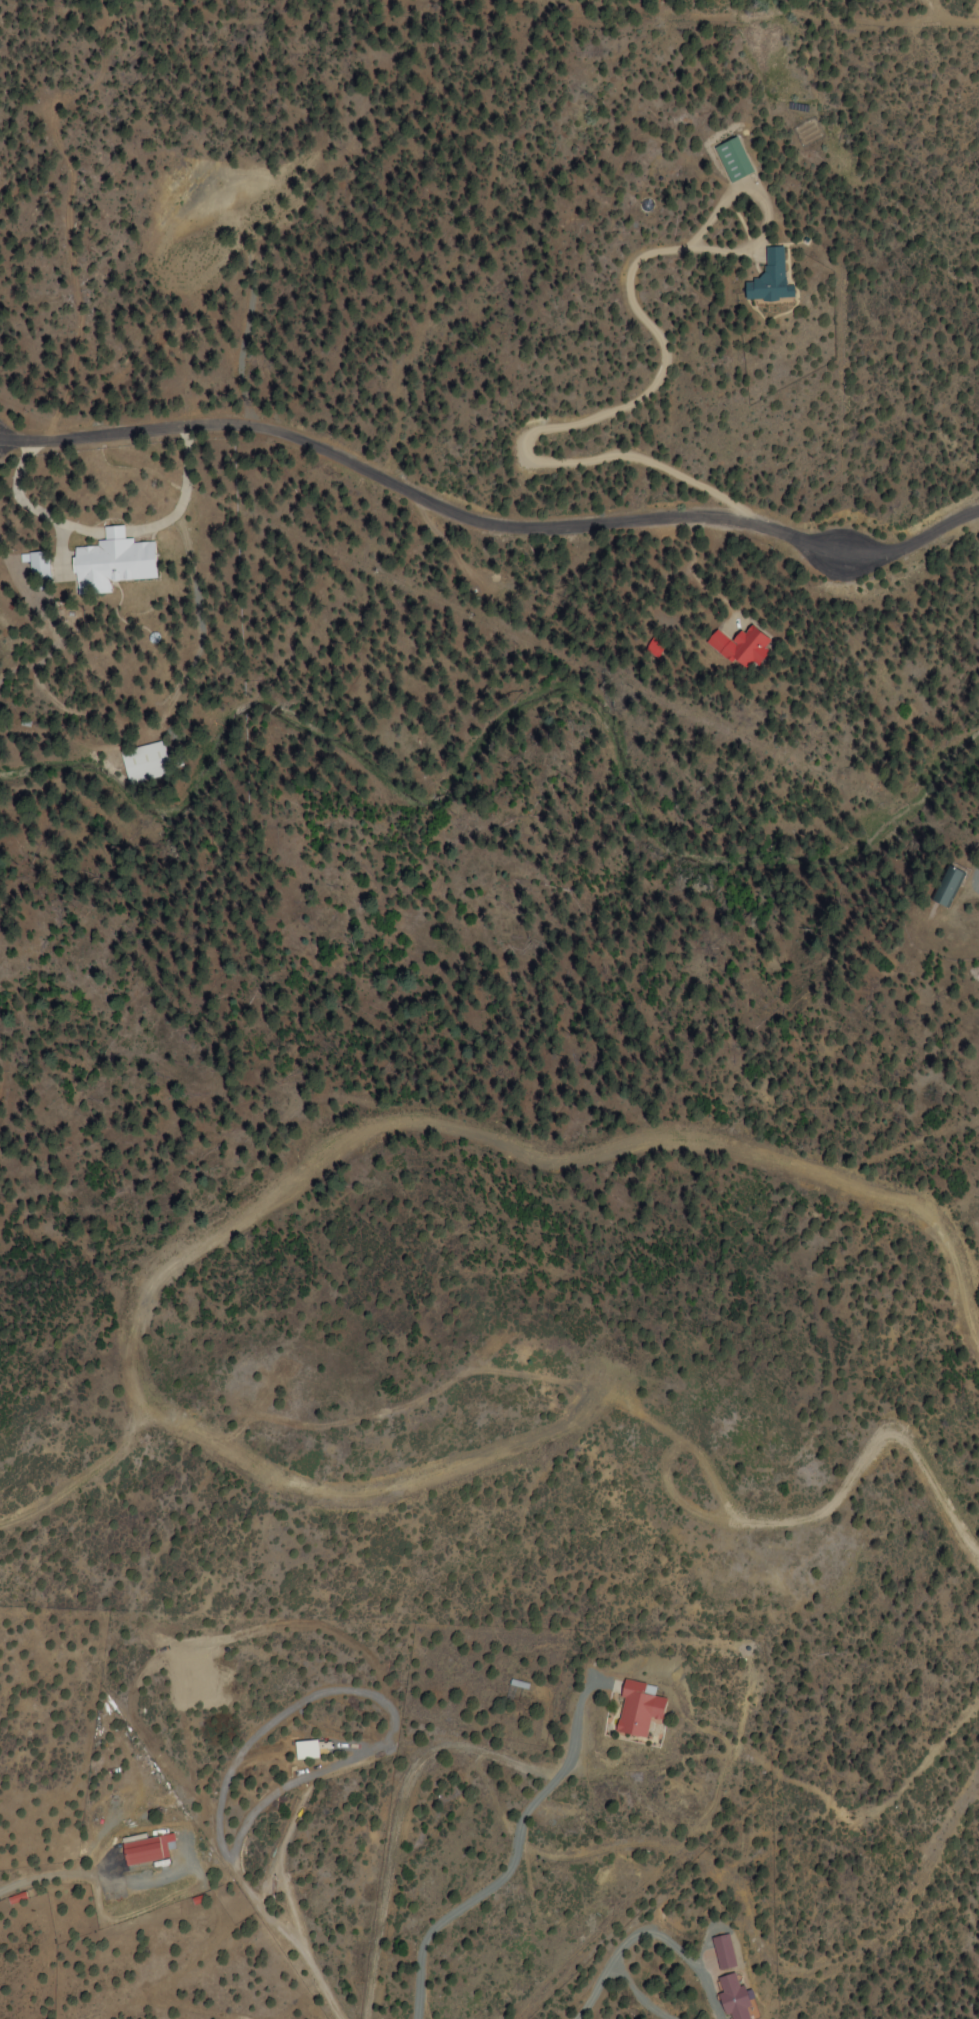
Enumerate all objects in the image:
park: (134, 7)
building: (730, 158)
building: (767, 278)
building: (107, 562)
building: (34, 573)
building: (733, 647)
building: (944, 886)
building: (635, 1708)
building: (307, 1750)
road: (502, 1756)
building: (144, 1849)
building: (721, 1951)
road: (965, 1986)
building: (729, 1997)

